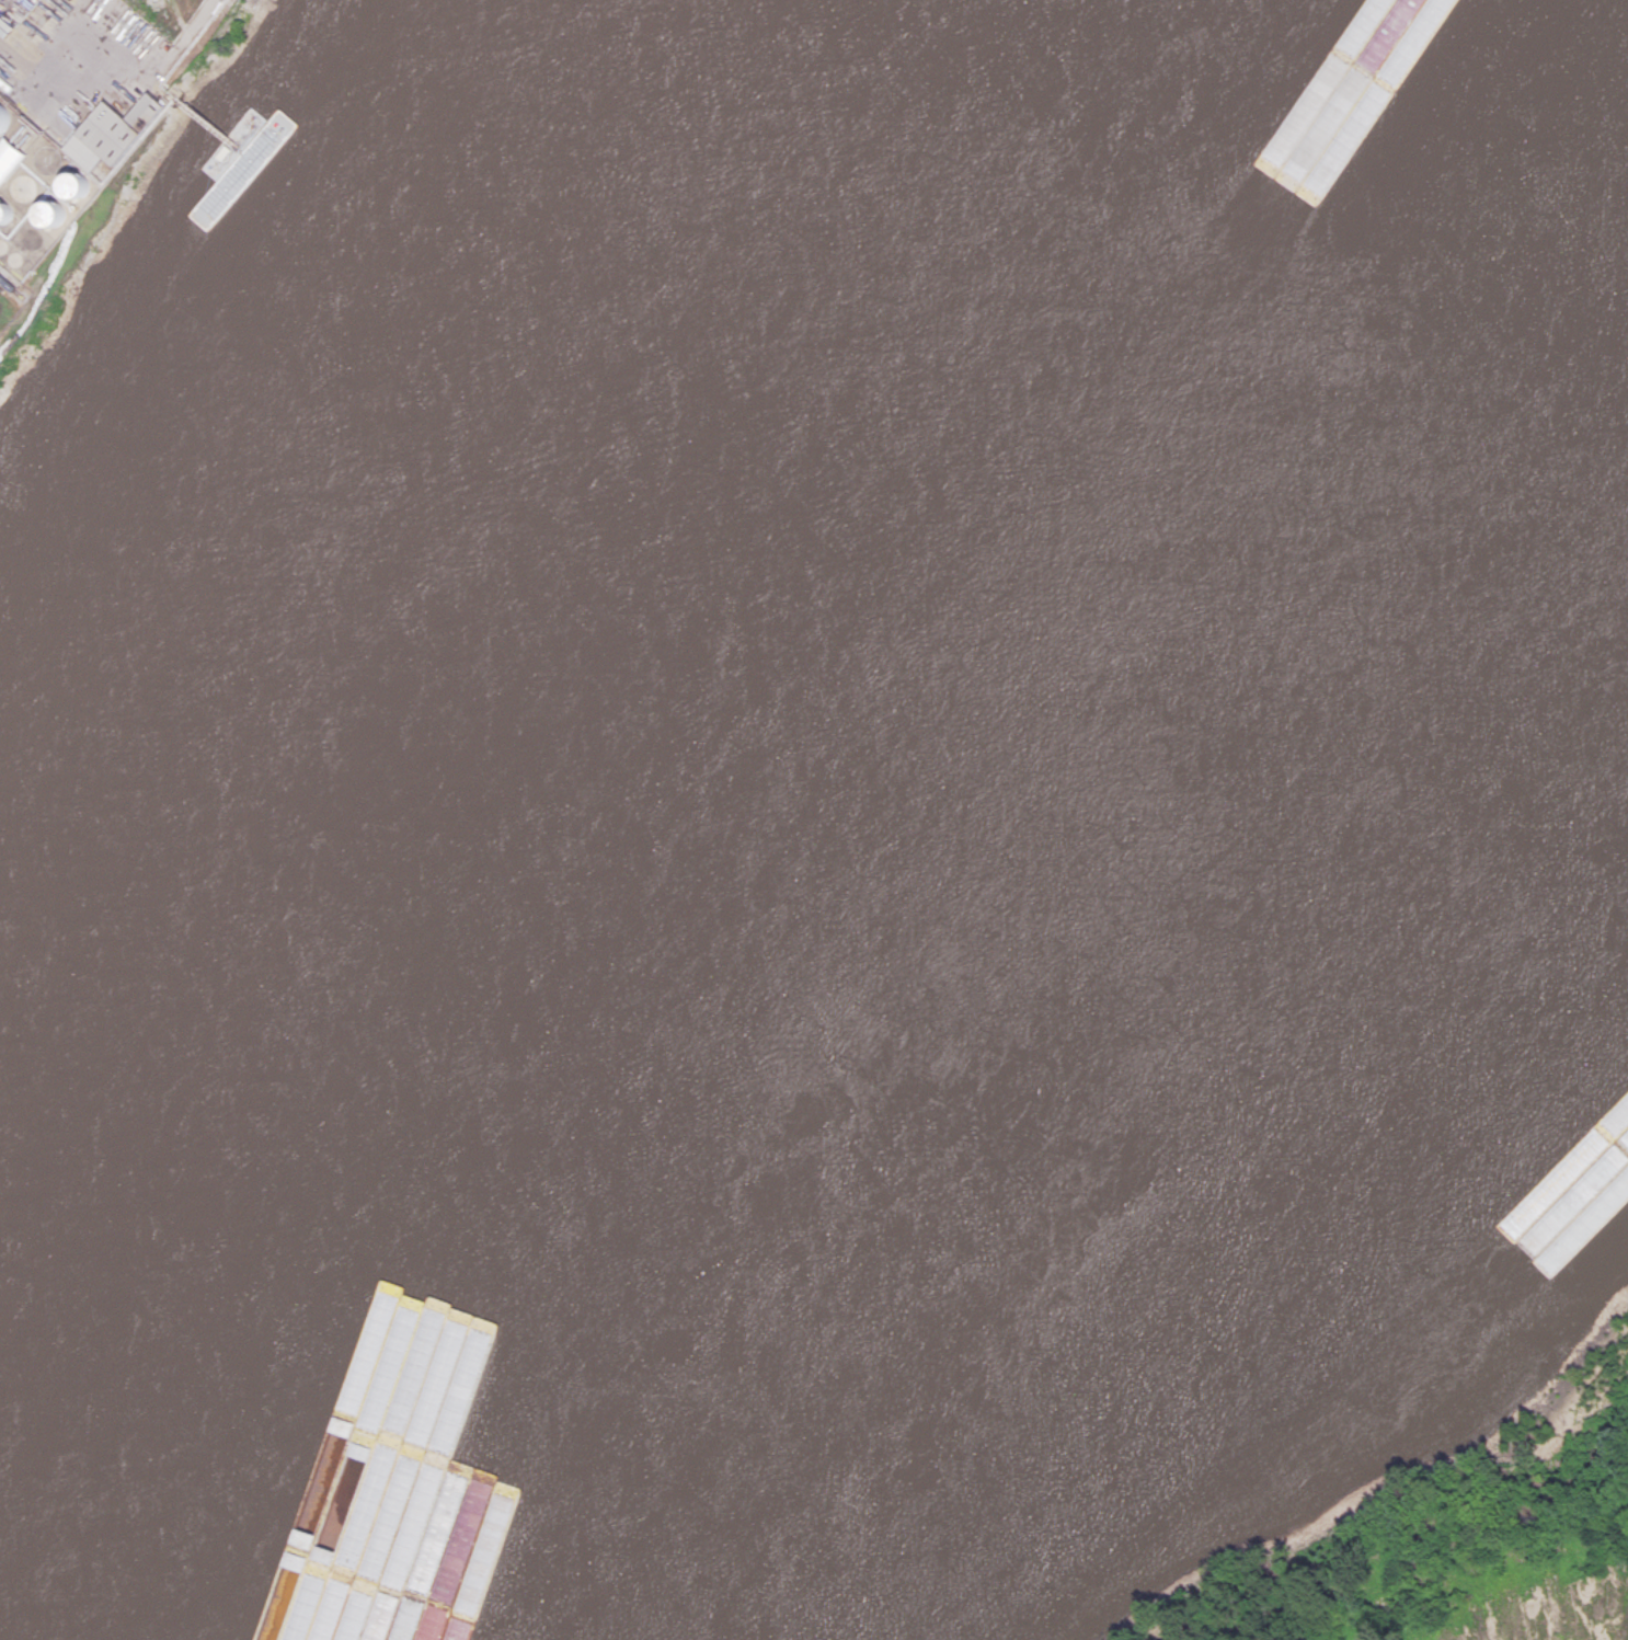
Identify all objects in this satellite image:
building: (1325, 58)
building: (1349, 67)
building: (1369, 80)
building: (4, 118)
storage tank: (4, 118)
building: (114, 131)
building: (9, 157)
building: (1285, 165)
building: (79, 185)
storage tank: (79, 185)
building: (25, 187)
storage tank: (25, 187)
building: (5, 213)
storage tank: (5, 213)
building: (55, 213)
storage tank: (55, 213)
building: (3, 245)
storage tank: (3, 245)
building: (16, 259)
storage tank: (16, 259)
railway: (13, 283)
river: (821, 348)
river: (325, 1168)
building: (1596, 1289)
crop: (1567, 1615)

